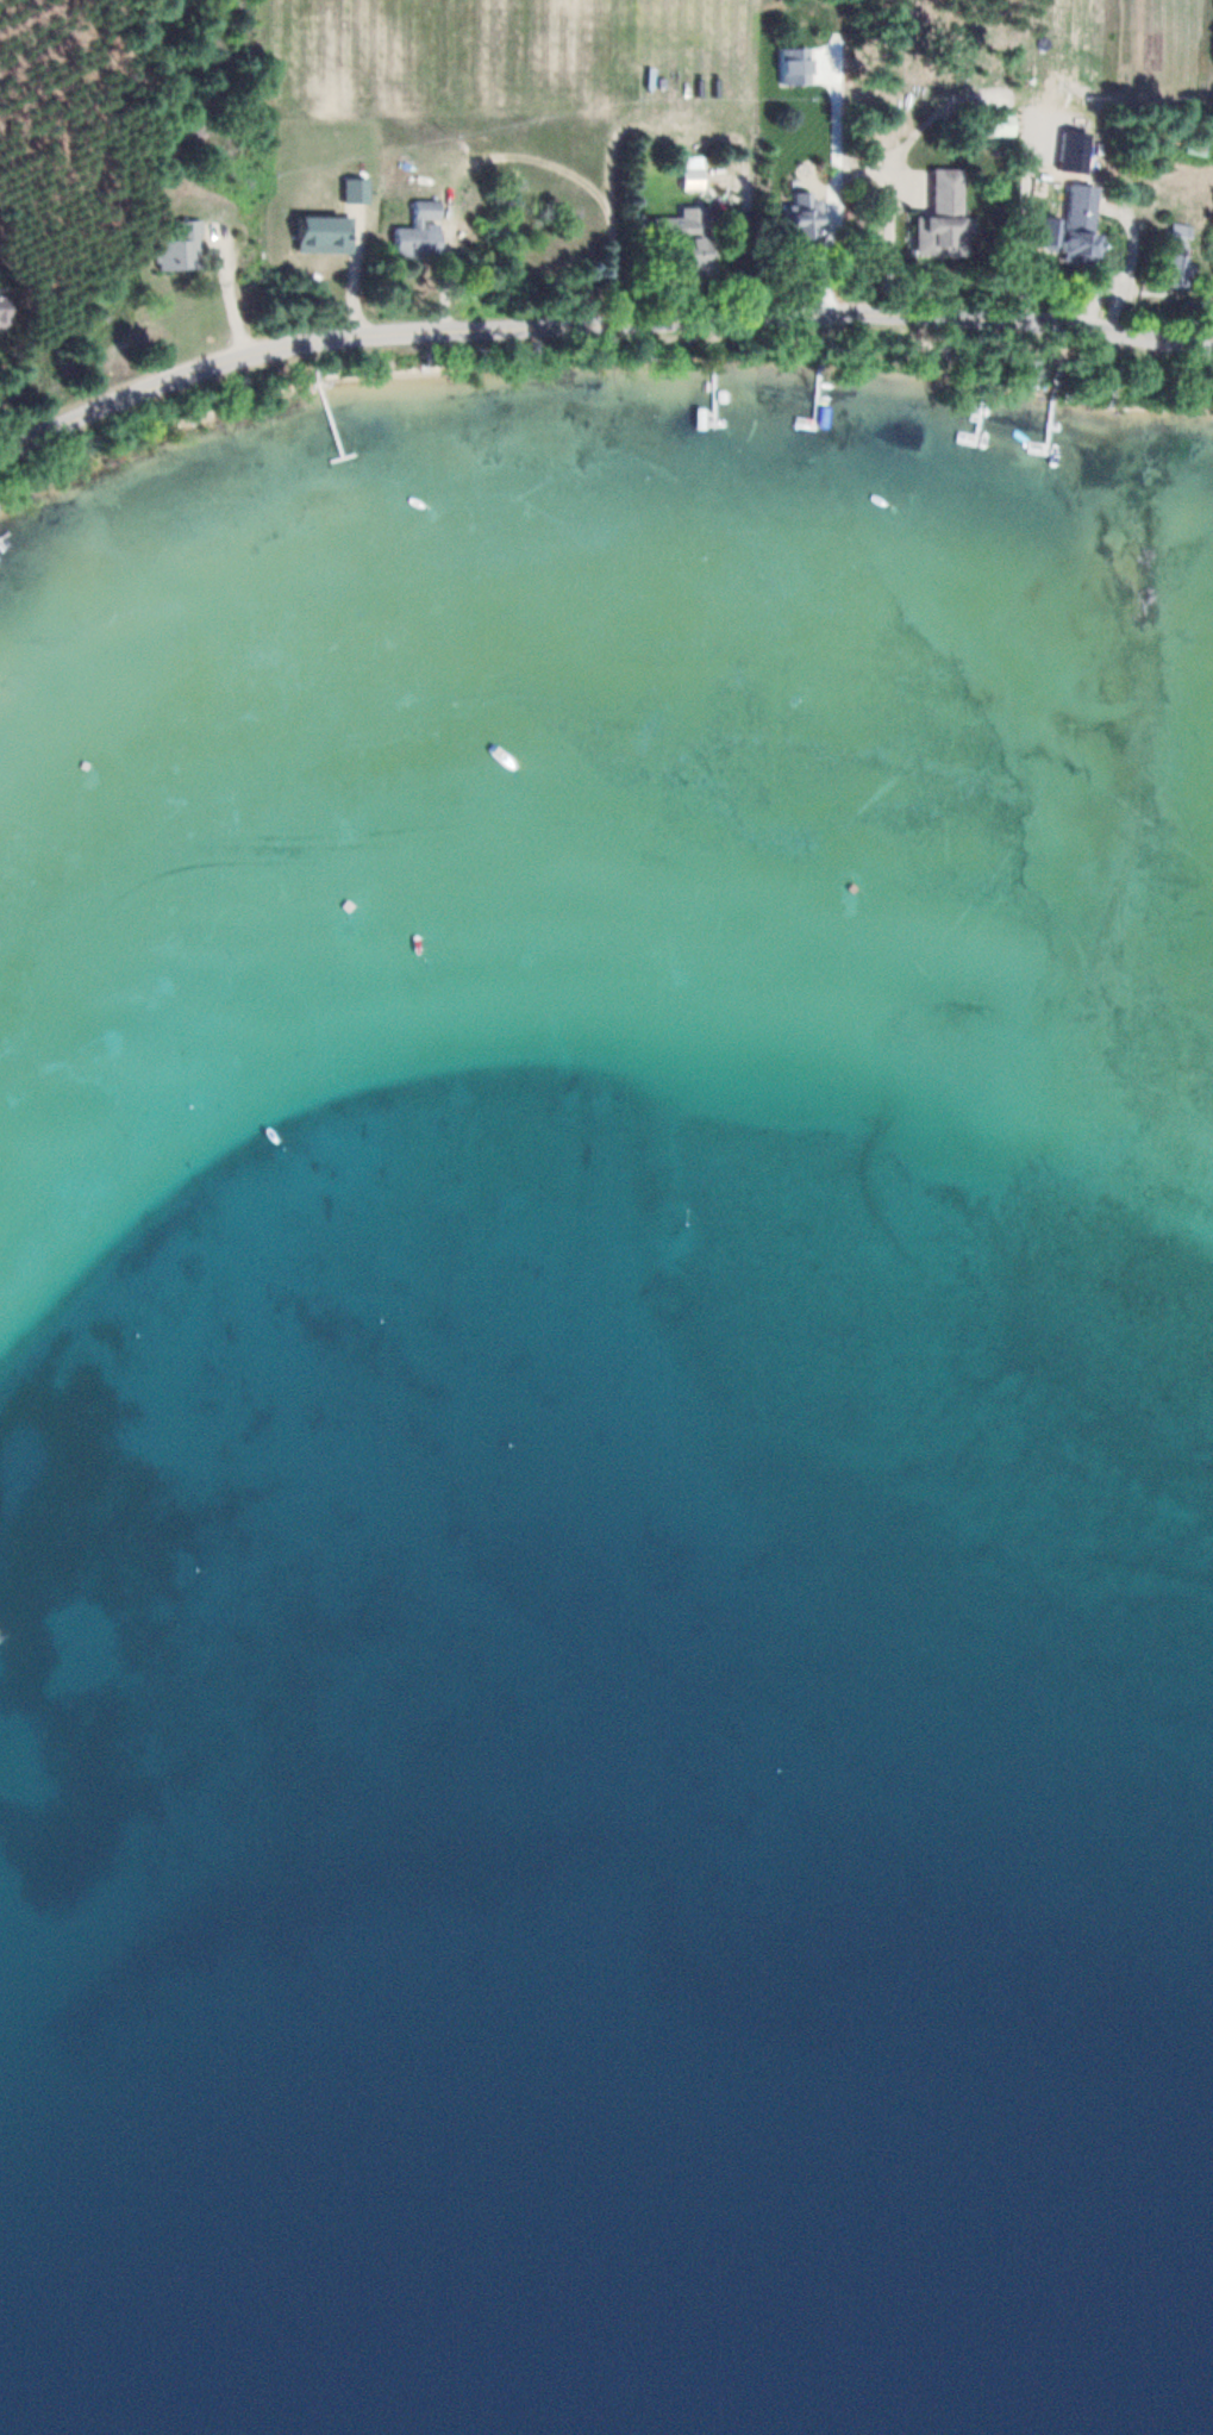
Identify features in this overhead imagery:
building: (995, 121)
building: (939, 213)
building: (805, 214)
building: (1078, 220)
building: (417, 226)
building: (689, 233)
building: (183, 246)
building: (1171, 251)
building: (6, 312)
road: (595, 320)

